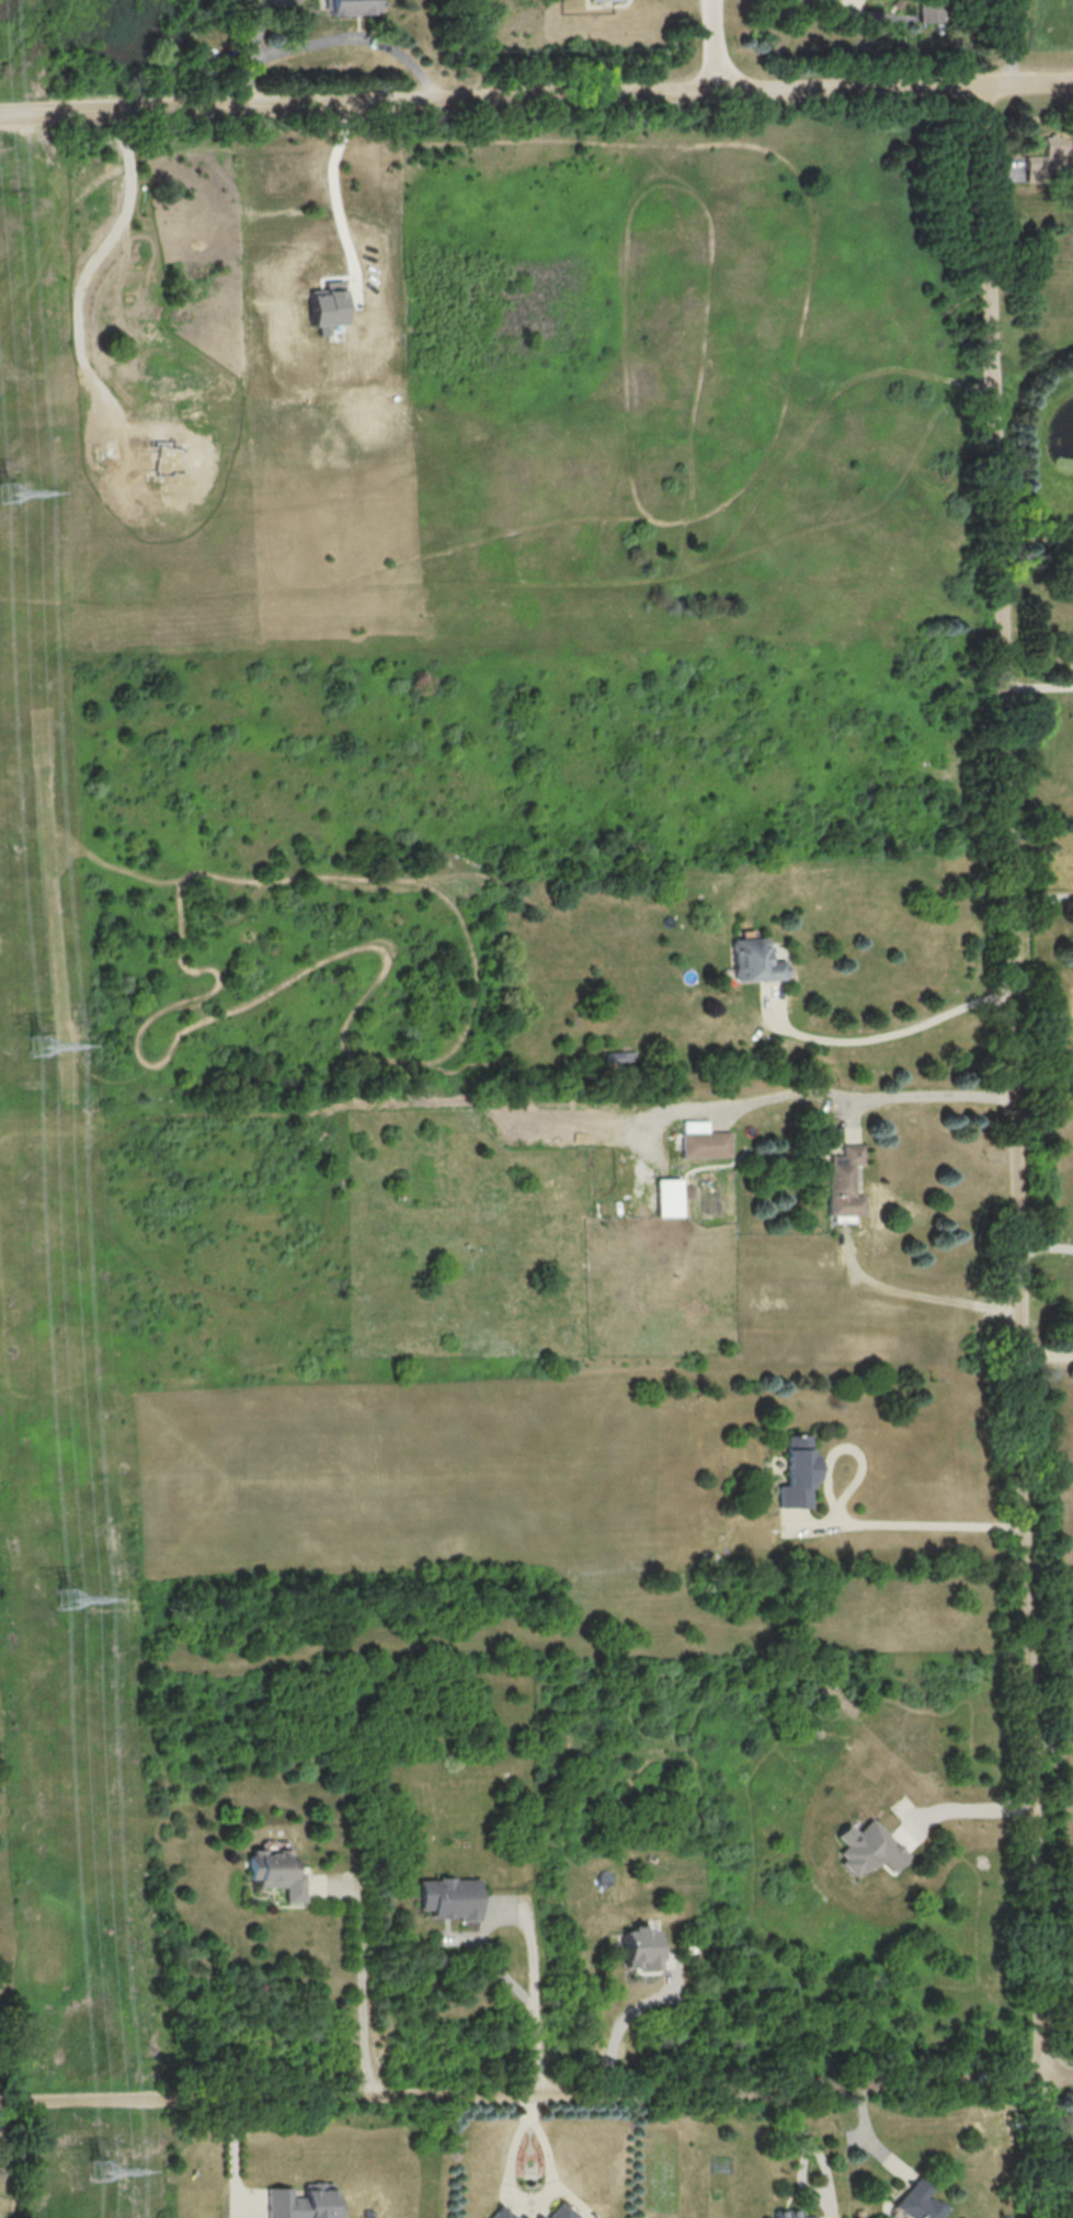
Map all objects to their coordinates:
building: (597, 0)
building: (352, 7)
road: (827, 7)
building: (928, 11)
road: (357, 33)
road: (1013, 43)
road: (710, 47)
road: (250, 50)
road: (536, 101)
building: (1041, 160)
road: (334, 199)
road: (93, 264)
building: (323, 305)
building: (162, 457)
power tower: (7, 490)
road: (1035, 538)
road: (1072, 676)
road: (1037, 684)
road: (121, 869)
road: (1040, 896)
road: (227, 915)
building: (753, 964)
road: (876, 1037)
road: (169, 1043)
power tower: (38, 1045)
building: (618, 1057)
road: (865, 1095)
building: (700, 1140)
road: (1011, 1152)
building: (841, 1180)
building: (689, 1192)
building: (666, 1196)
road: (1043, 1247)
road: (922, 1296)
road: (1047, 1354)
building: (794, 1473)
road: (848, 1527)
power tower: (68, 1600)
road: (1051, 1747)
building: (742, 1775)
road: (969, 1803)
building: (866, 1848)
building: (274, 1872)
building: (448, 1897)
road: (526, 1927)
building: (640, 1947)
building: (689, 1948)
road: (357, 1971)
road: (623, 2022)
road: (536, 2095)
road: (861, 2136)
road: (232, 2145)
fountain: (529, 2163)
crop: (720, 2163)
power tower: (99, 2171)
crop: (661, 2173)
road: (798, 2175)
road: (255, 2193)
crop: (714, 2194)
road: (525, 2197)
building: (303, 2200)
building: (918, 2200)
road: (233, 2204)
building: (562, 2211)
building: (787, 2213)
building: (500, 2215)
building: (539, 2217)

